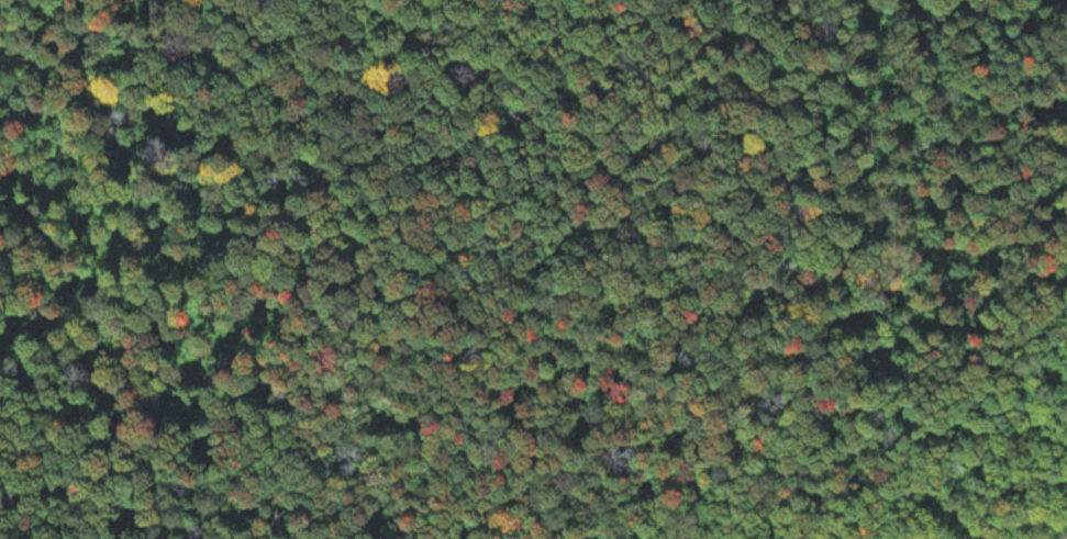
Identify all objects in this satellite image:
road: (3, 14)

